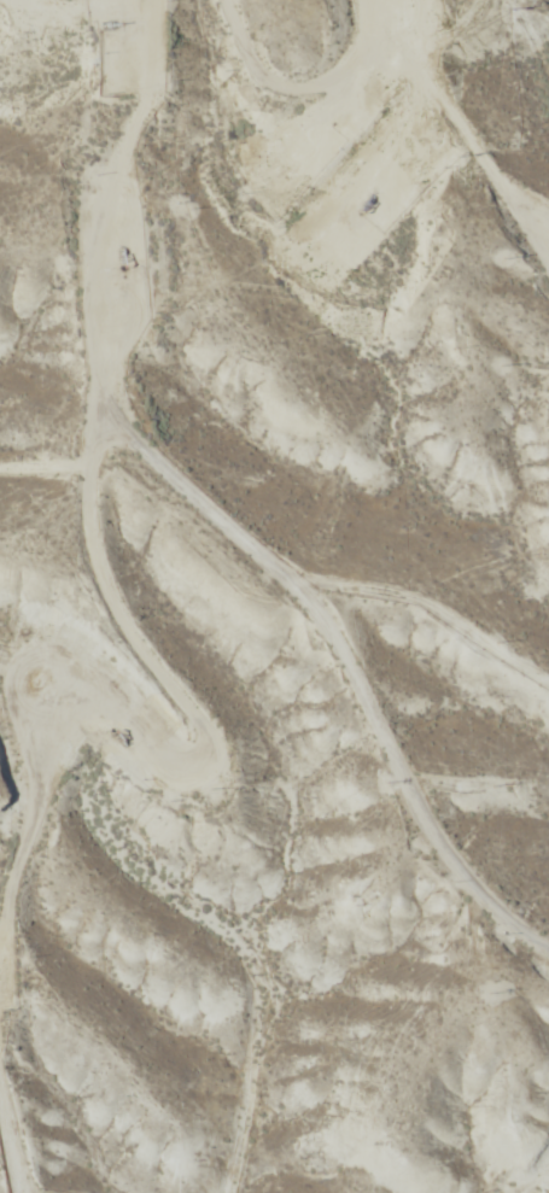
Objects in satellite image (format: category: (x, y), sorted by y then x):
road: (344, 75)
road: (86, 525)
road: (345, 700)
road: (14, 854)
road: (524, 1141)
road: (12, 1147)

